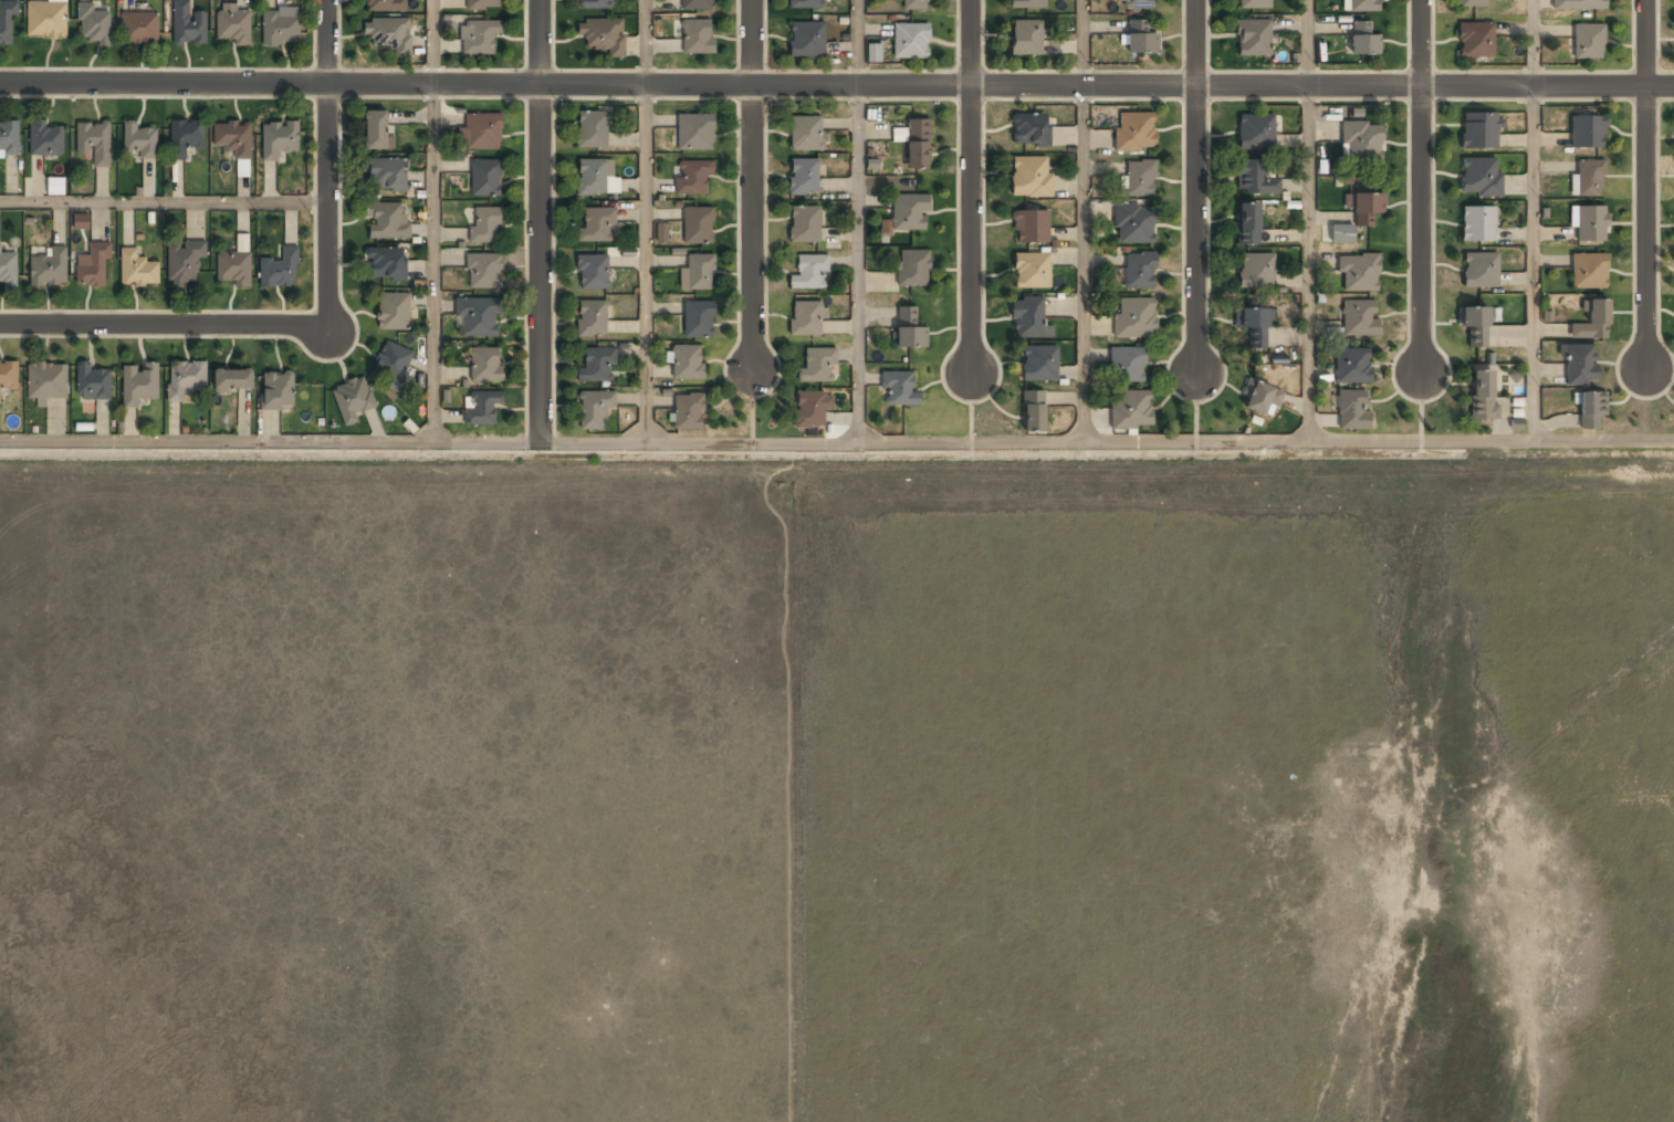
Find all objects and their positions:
building: (1472, 3)
building: (482, 4)
building: (595, 4)
building: (695, 4)
building: (806, 4)
building: (1027, 4)
building: (1136, 4)
building: (1253, 4)
building: (1578, 4)
building: (385, 6)
building: (916, 6)
building: (1361, 6)
building: (45, 20)
building: (7, 23)
building: (187, 24)
building: (92, 25)
building: (232, 25)
building: (279, 28)
building: (139, 29)
building: (603, 35)
building: (389, 36)
building: (478, 38)
building: (697, 38)
building: (1026, 39)
building: (1140, 39)
building: (1363, 39)
building: (806, 40)
building: (1252, 40)
building: (1475, 41)
road: (855, 42)
building: (910, 42)
road: (1081, 42)
road: (1196, 42)
road: (1308, 42)
building: (1587, 42)
road: (646, 43)
road: (1530, 43)
building: (873, 52)
road: (837, 85)
building: (592, 129)
building: (376, 130)
building: (1029, 130)
building: (1478, 132)
building: (480, 133)
building: (694, 133)
building: (1133, 133)
building: (1255, 133)
building: (1587, 133)
building: (805, 134)
building: (9, 138)
building: (185, 138)
building: (45, 139)
building: (232, 139)
building: (278, 139)
building: (138, 141)
building: (94, 143)
building: (1360, 143)
building: (917, 145)
road: (327, 162)
building: (242, 168)
building: (387, 176)
building: (593, 177)
building: (692, 177)
building: (1029, 177)
building: (485, 178)
building: (803, 178)
building: (1479, 178)
building: (1140, 179)
building: (1588, 179)
building: (1254, 180)
road: (1644, 182)
building: (55, 186)
road: (752, 186)
road: (971, 186)
road: (1420, 187)
road: (164, 202)
building: (1366, 209)
building: (908, 213)
building: (81, 221)
building: (386, 221)
road: (432, 221)
road: (542, 221)
building: (804, 226)
building: (1133, 226)
building: (1248, 226)
building: (1477, 226)
building: (1589, 226)
building: (485, 227)
building: (596, 227)
building: (698, 227)
building: (1029, 228)
road: (1197, 228)
building: (661, 232)
building: (1342, 233)
building: (184, 261)
road: (1081, 262)
road: (1308, 262)
road: (857, 263)
road: (1531, 263)
building: (234, 264)
building: (385, 264)
road: (646, 264)
building: (93, 268)
building: (8, 269)
building: (49, 269)
building: (912, 269)
building: (137, 270)
building: (280, 270)
building: (484, 271)
building: (1030, 271)
building: (1138, 271)
building: (1479, 271)
building: (1255, 272)
building: (1588, 272)
building: (592, 273)
building: (808, 273)
building: (697, 274)
building: (1358, 274)
building: (393, 313)
building: (478, 317)
building: (590, 318)
building: (1133, 318)
building: (805, 319)
building: (1028, 319)
building: (1359, 319)
building: (698, 321)
building: (1592, 323)
road: (165, 324)
building: (1253, 326)
building: (1475, 326)
building: (909, 329)
building: (393, 364)
building: (686, 364)
building: (1038, 365)
building: (1580, 365)
building: (485, 366)
building: (596, 366)
building: (1126, 366)
building: (1351, 366)
building: (817, 367)
building: (8, 376)
building: (185, 379)
building: (232, 379)
building: (46, 381)
building: (92, 384)
building: (138, 384)
building: (898, 390)
building: (278, 391)
building: (1482, 396)
building: (1262, 398)
building: (352, 401)
building: (480, 408)
building: (593, 409)
building: (1130, 410)
building: (1352, 410)
building: (809, 411)
building: (1590, 411)
building: (688, 412)
building: (1033, 412)
road: (836, 441)

